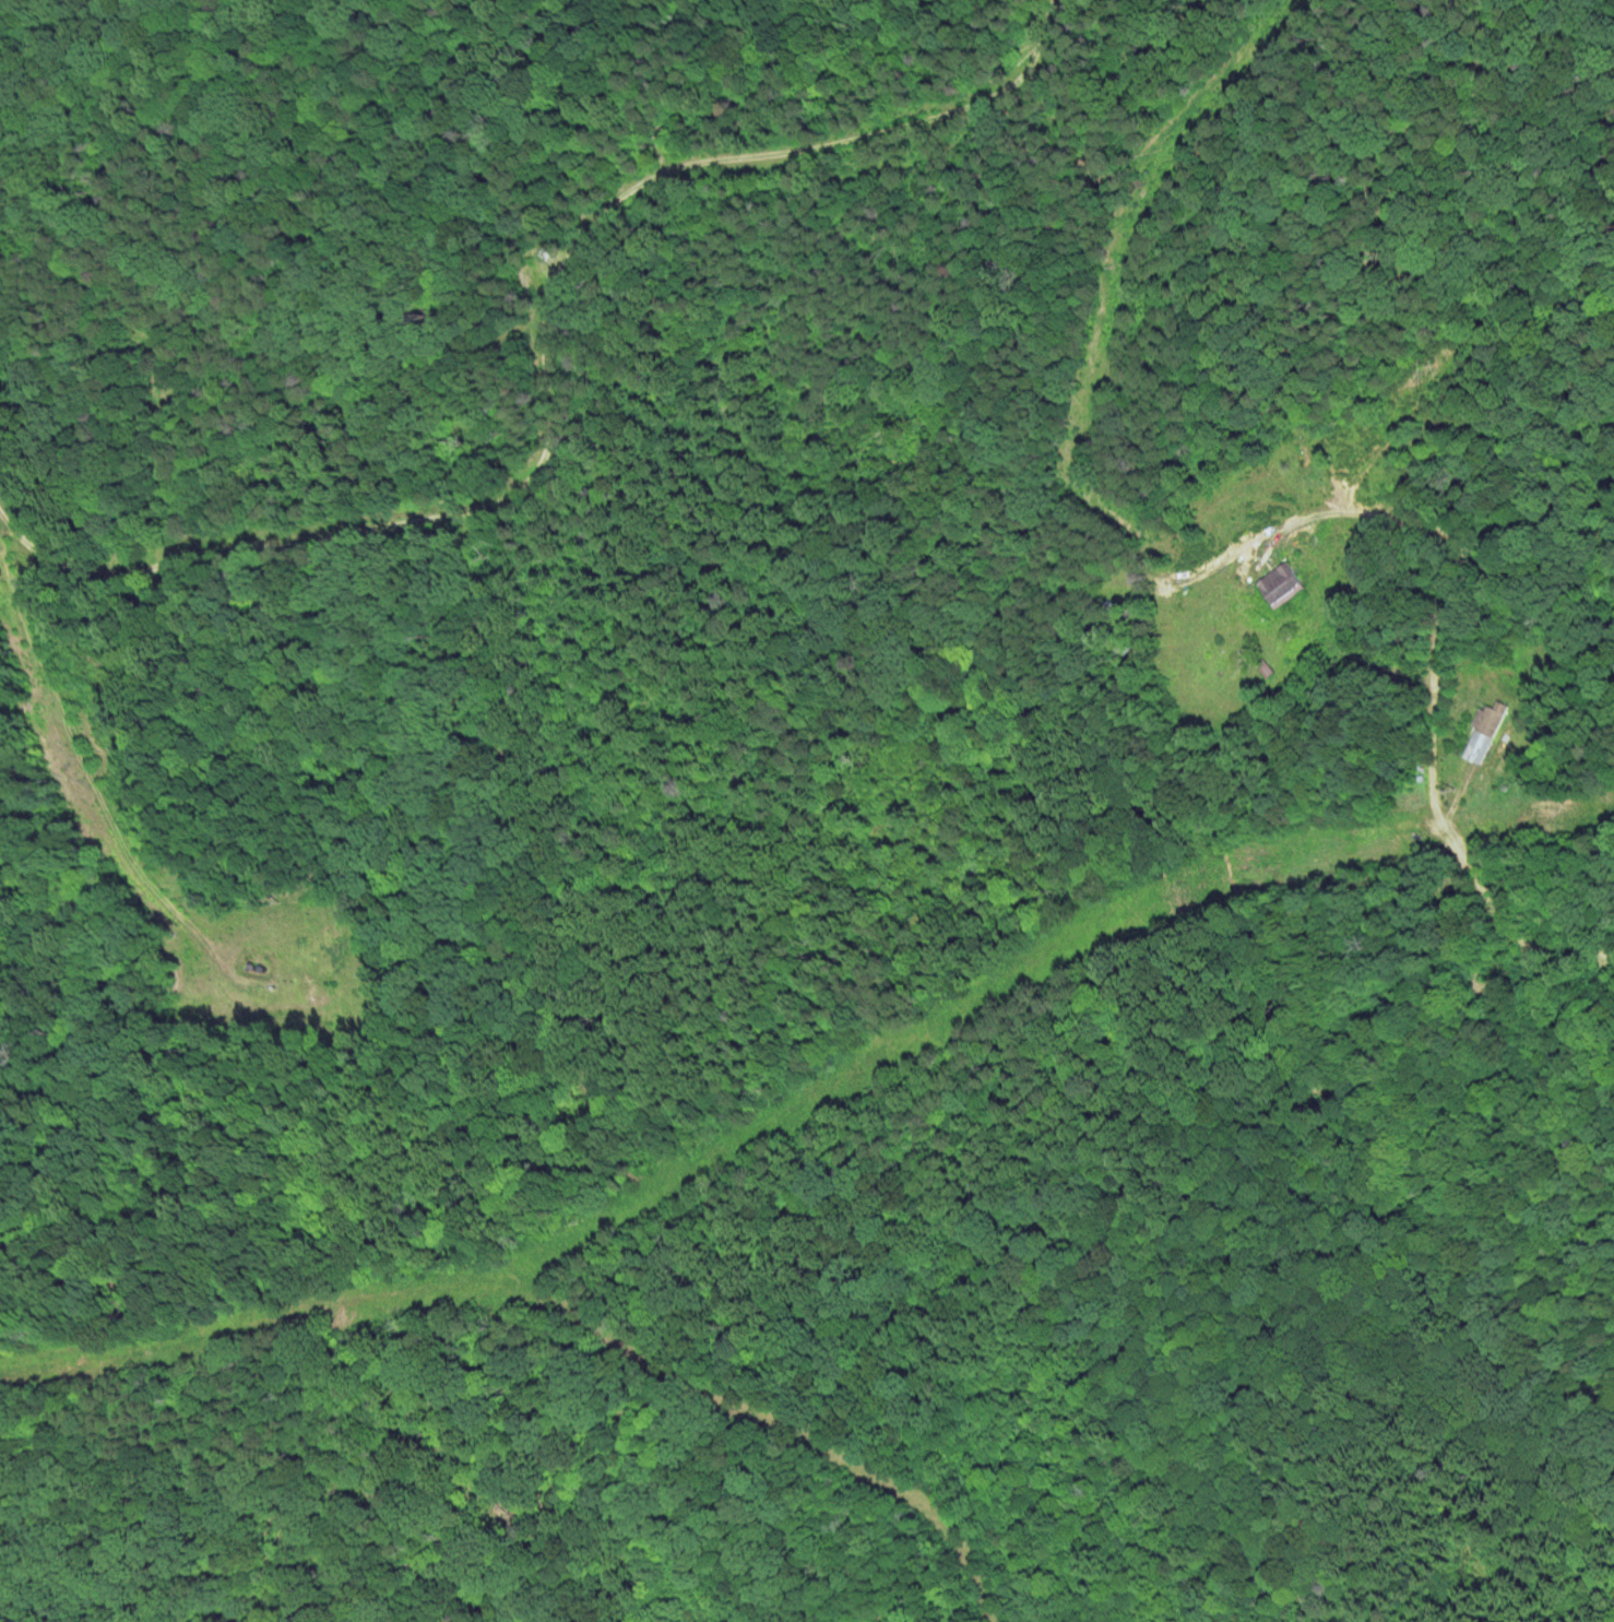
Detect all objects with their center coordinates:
road: (503, 280)
building: (1280, 584)
building: (1484, 731)

